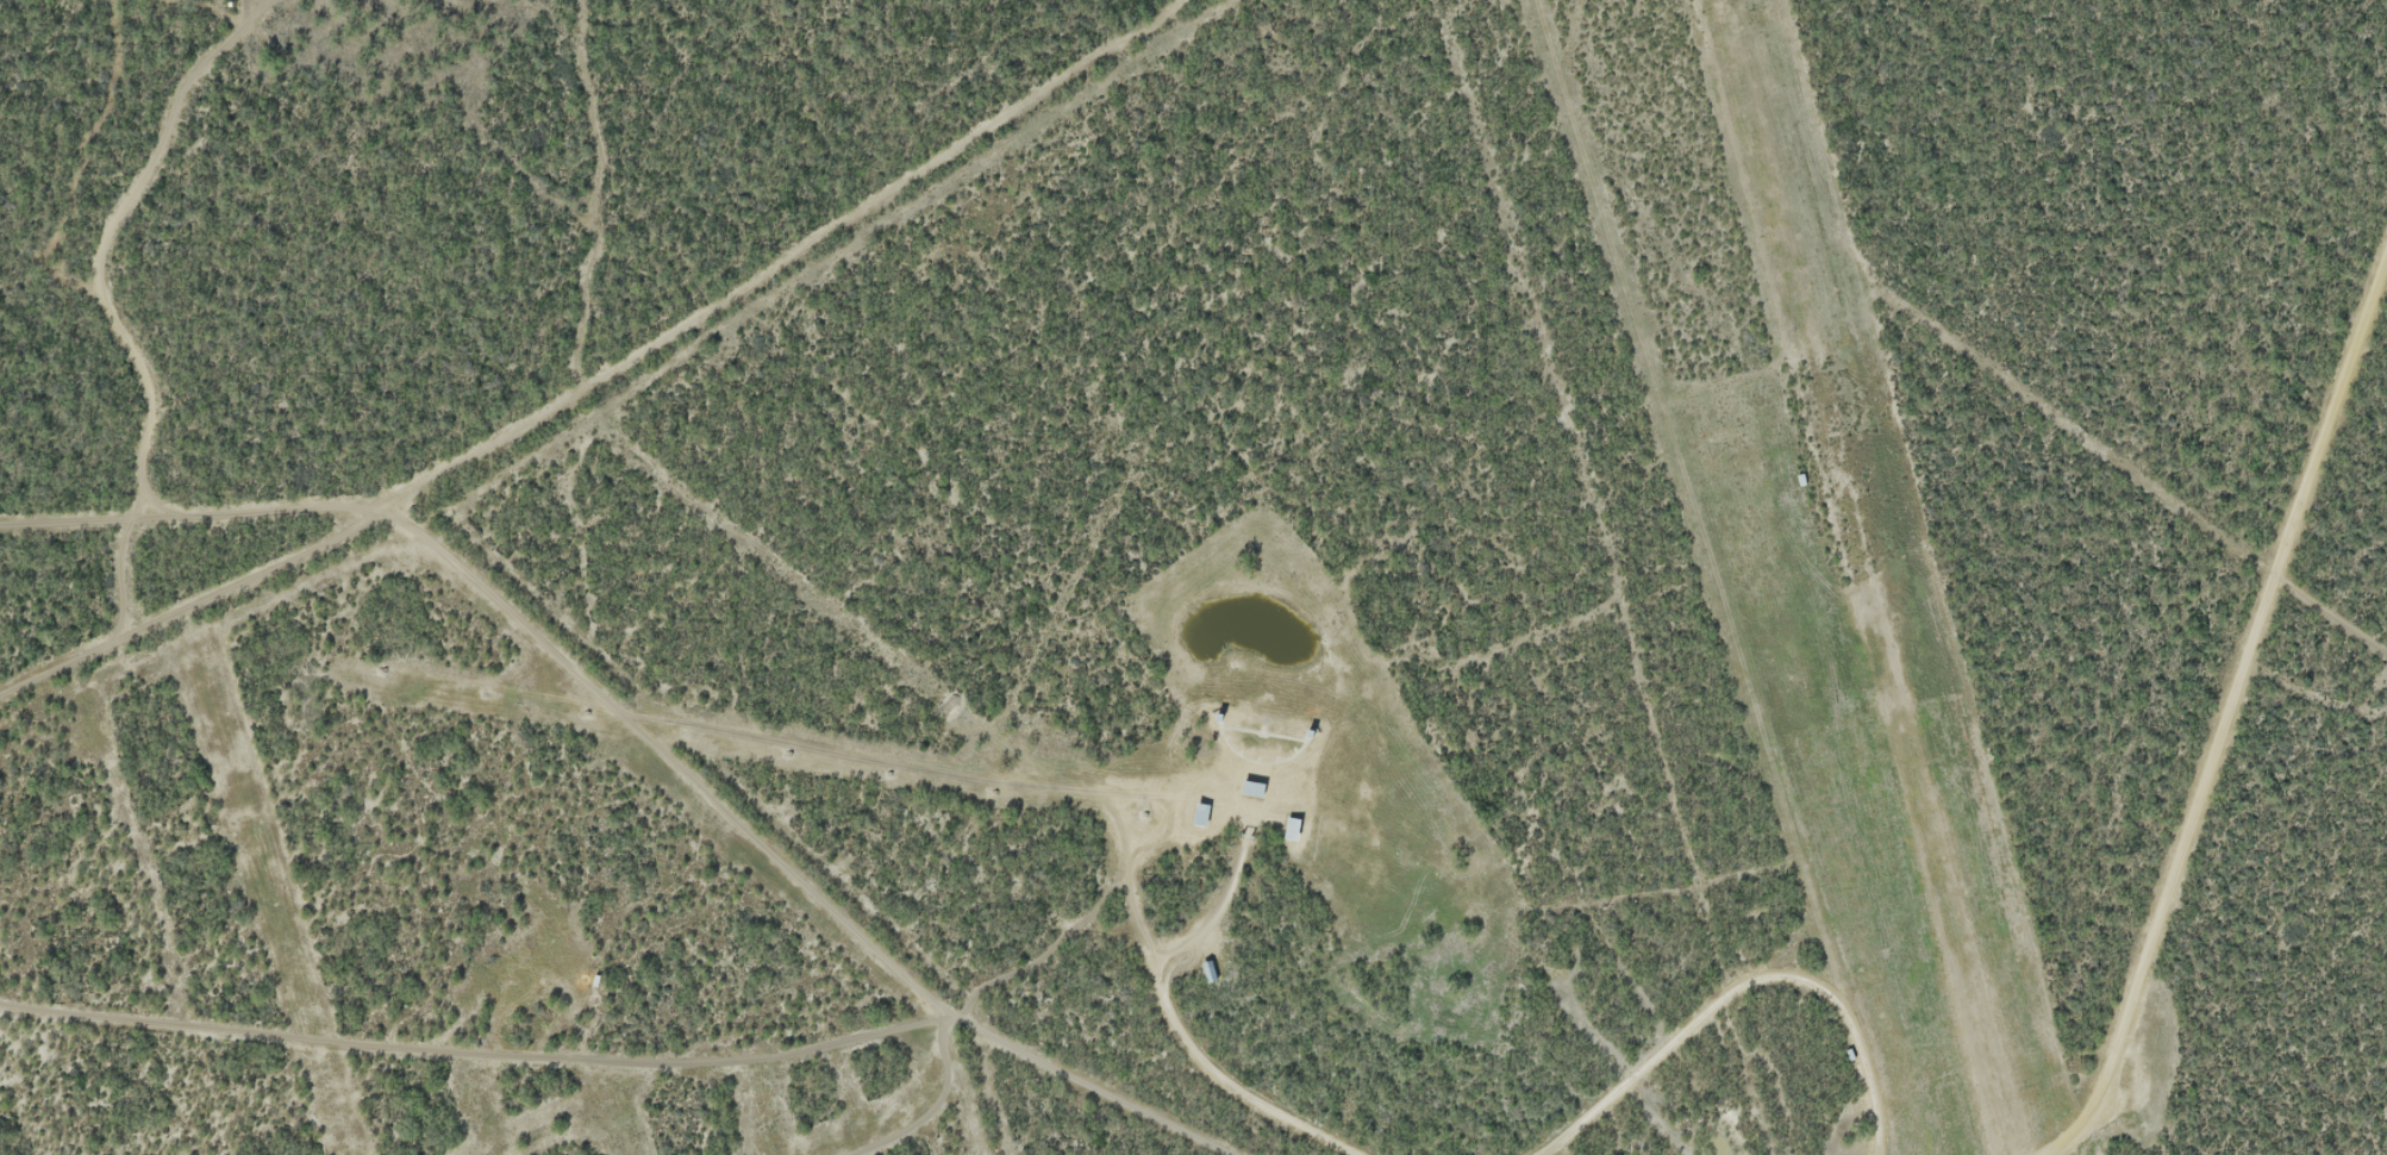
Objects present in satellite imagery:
road: (605, 374)
road: (2229, 713)
building: (1255, 788)
building: (1294, 829)
road: (785, 868)
building: (1210, 972)

